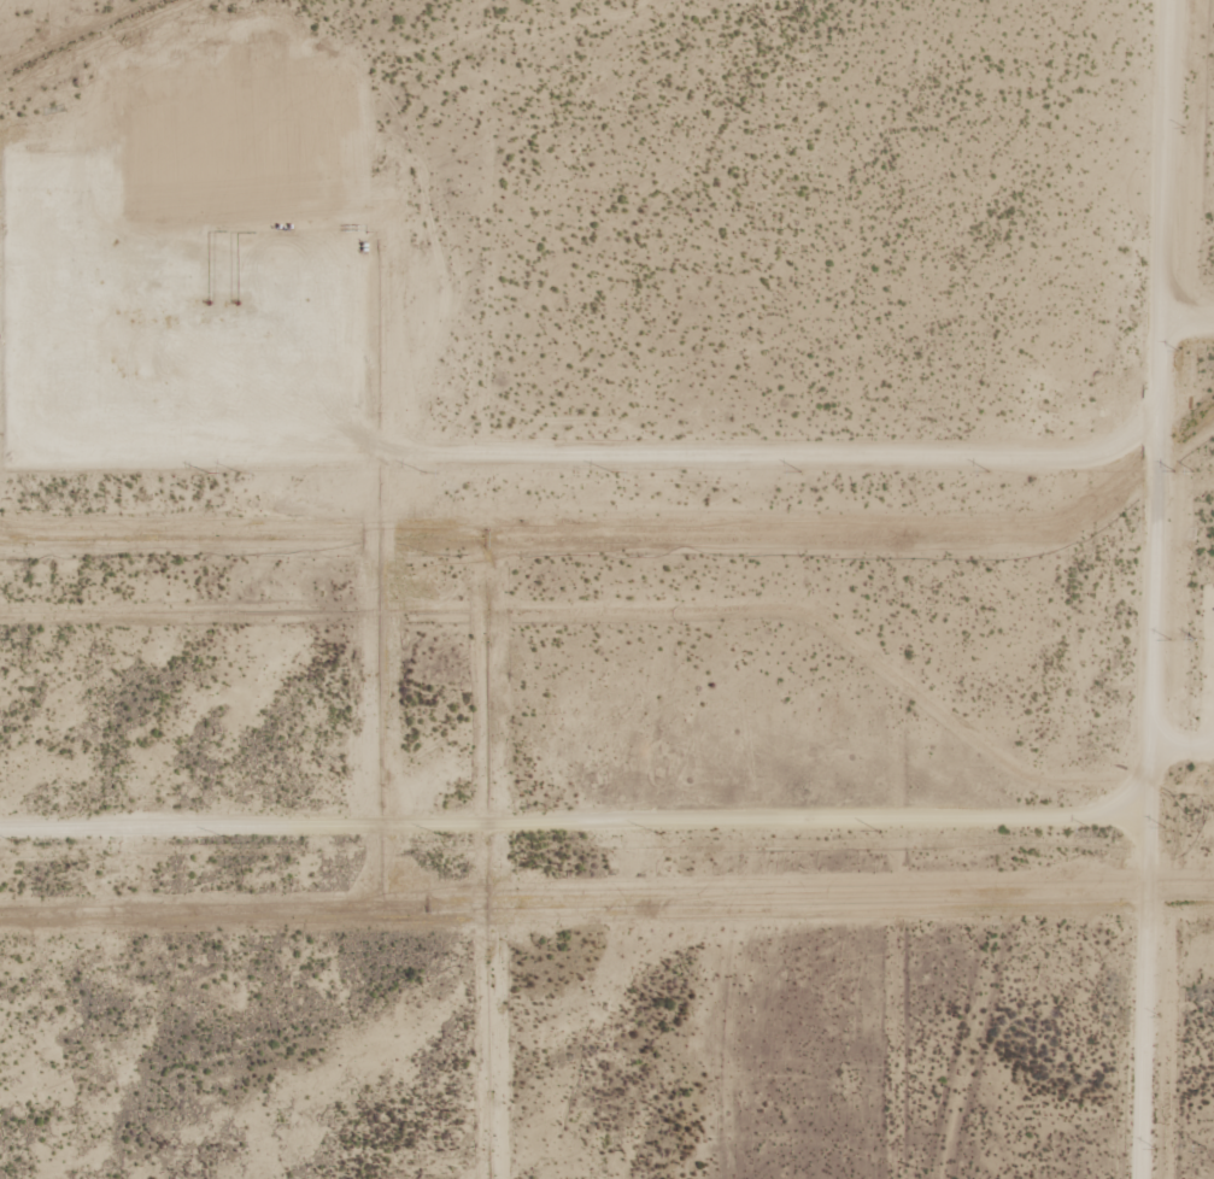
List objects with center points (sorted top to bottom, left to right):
road: (1058, 588)

